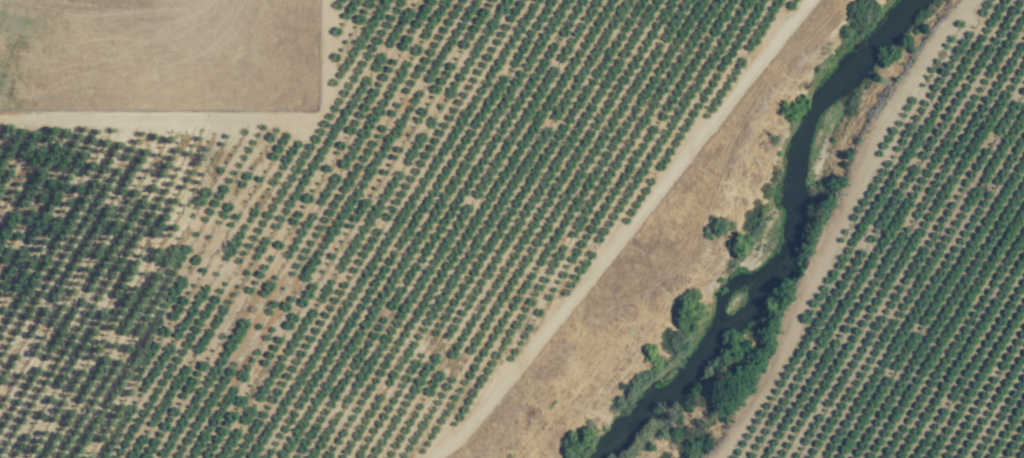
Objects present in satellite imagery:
river: (775, 238)

